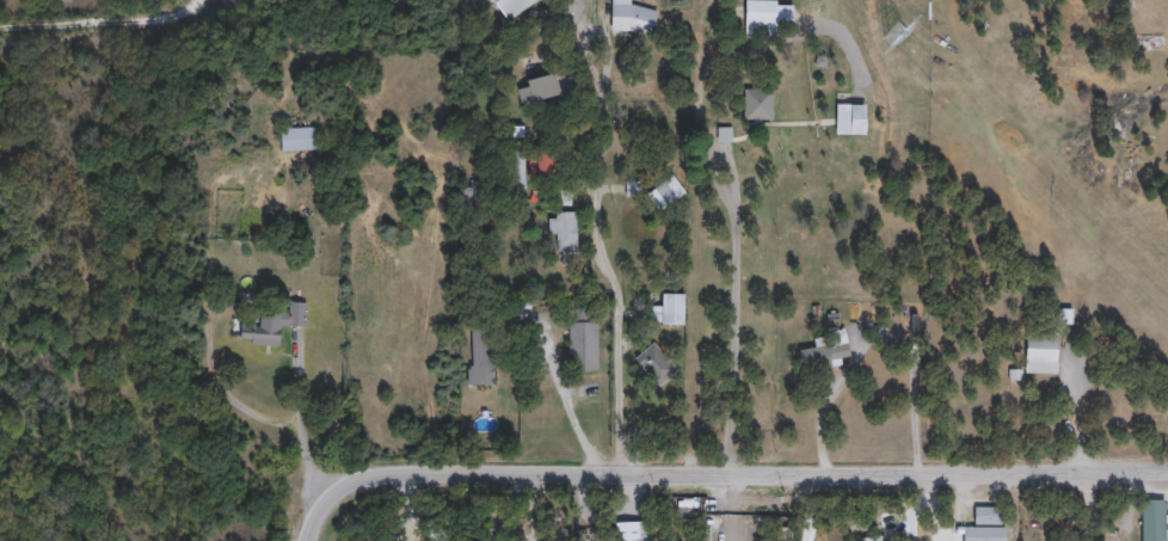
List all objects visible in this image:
building: (510, 7)
building: (631, 20)
building: (757, 20)
road: (99, 24)
building: (1145, 29)
power tower: (892, 35)
building: (536, 90)
building: (755, 105)
building: (855, 119)
building: (296, 139)
building: (664, 193)
building: (564, 233)
road: (607, 270)
building: (670, 308)
road: (737, 312)
building: (270, 325)
road: (880, 332)
building: (582, 339)
building: (824, 349)
building: (1037, 354)
building: (480, 356)
building: (653, 364)
road: (296, 399)
road: (567, 399)
road: (248, 410)
building: (1127, 418)
road: (717, 473)
road: (734, 506)
road: (812, 506)
road: (936, 506)
road: (407, 509)
building: (1150, 521)
building: (982, 525)
building: (432, 530)
building: (631, 530)
building: (868, 537)

